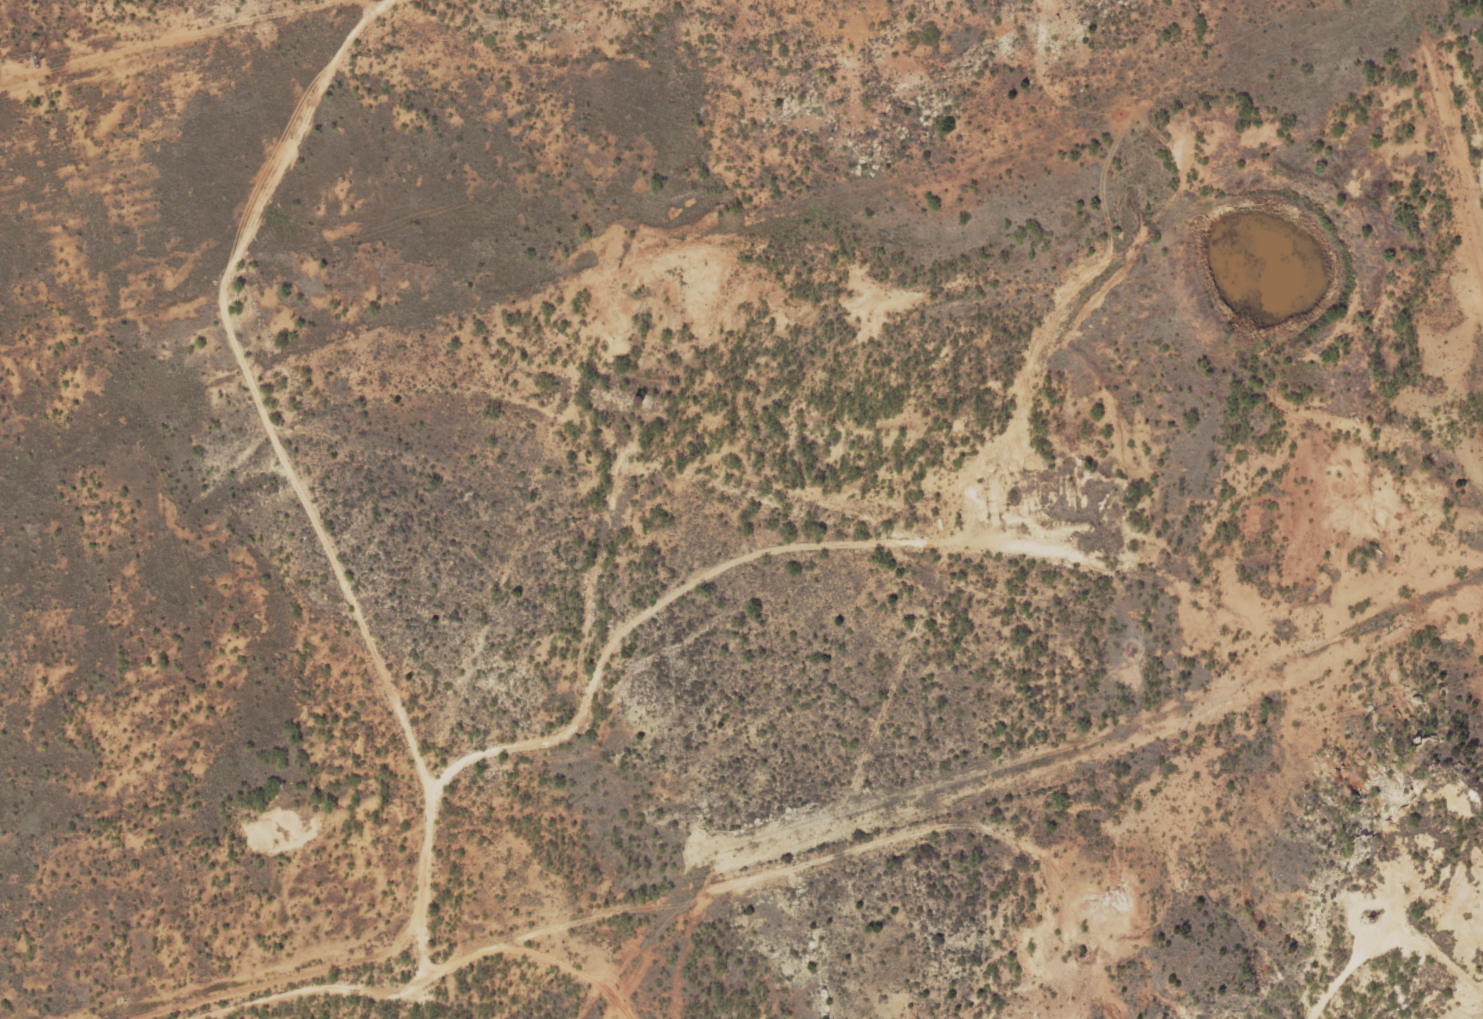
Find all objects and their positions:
power tower: (32, 61)

